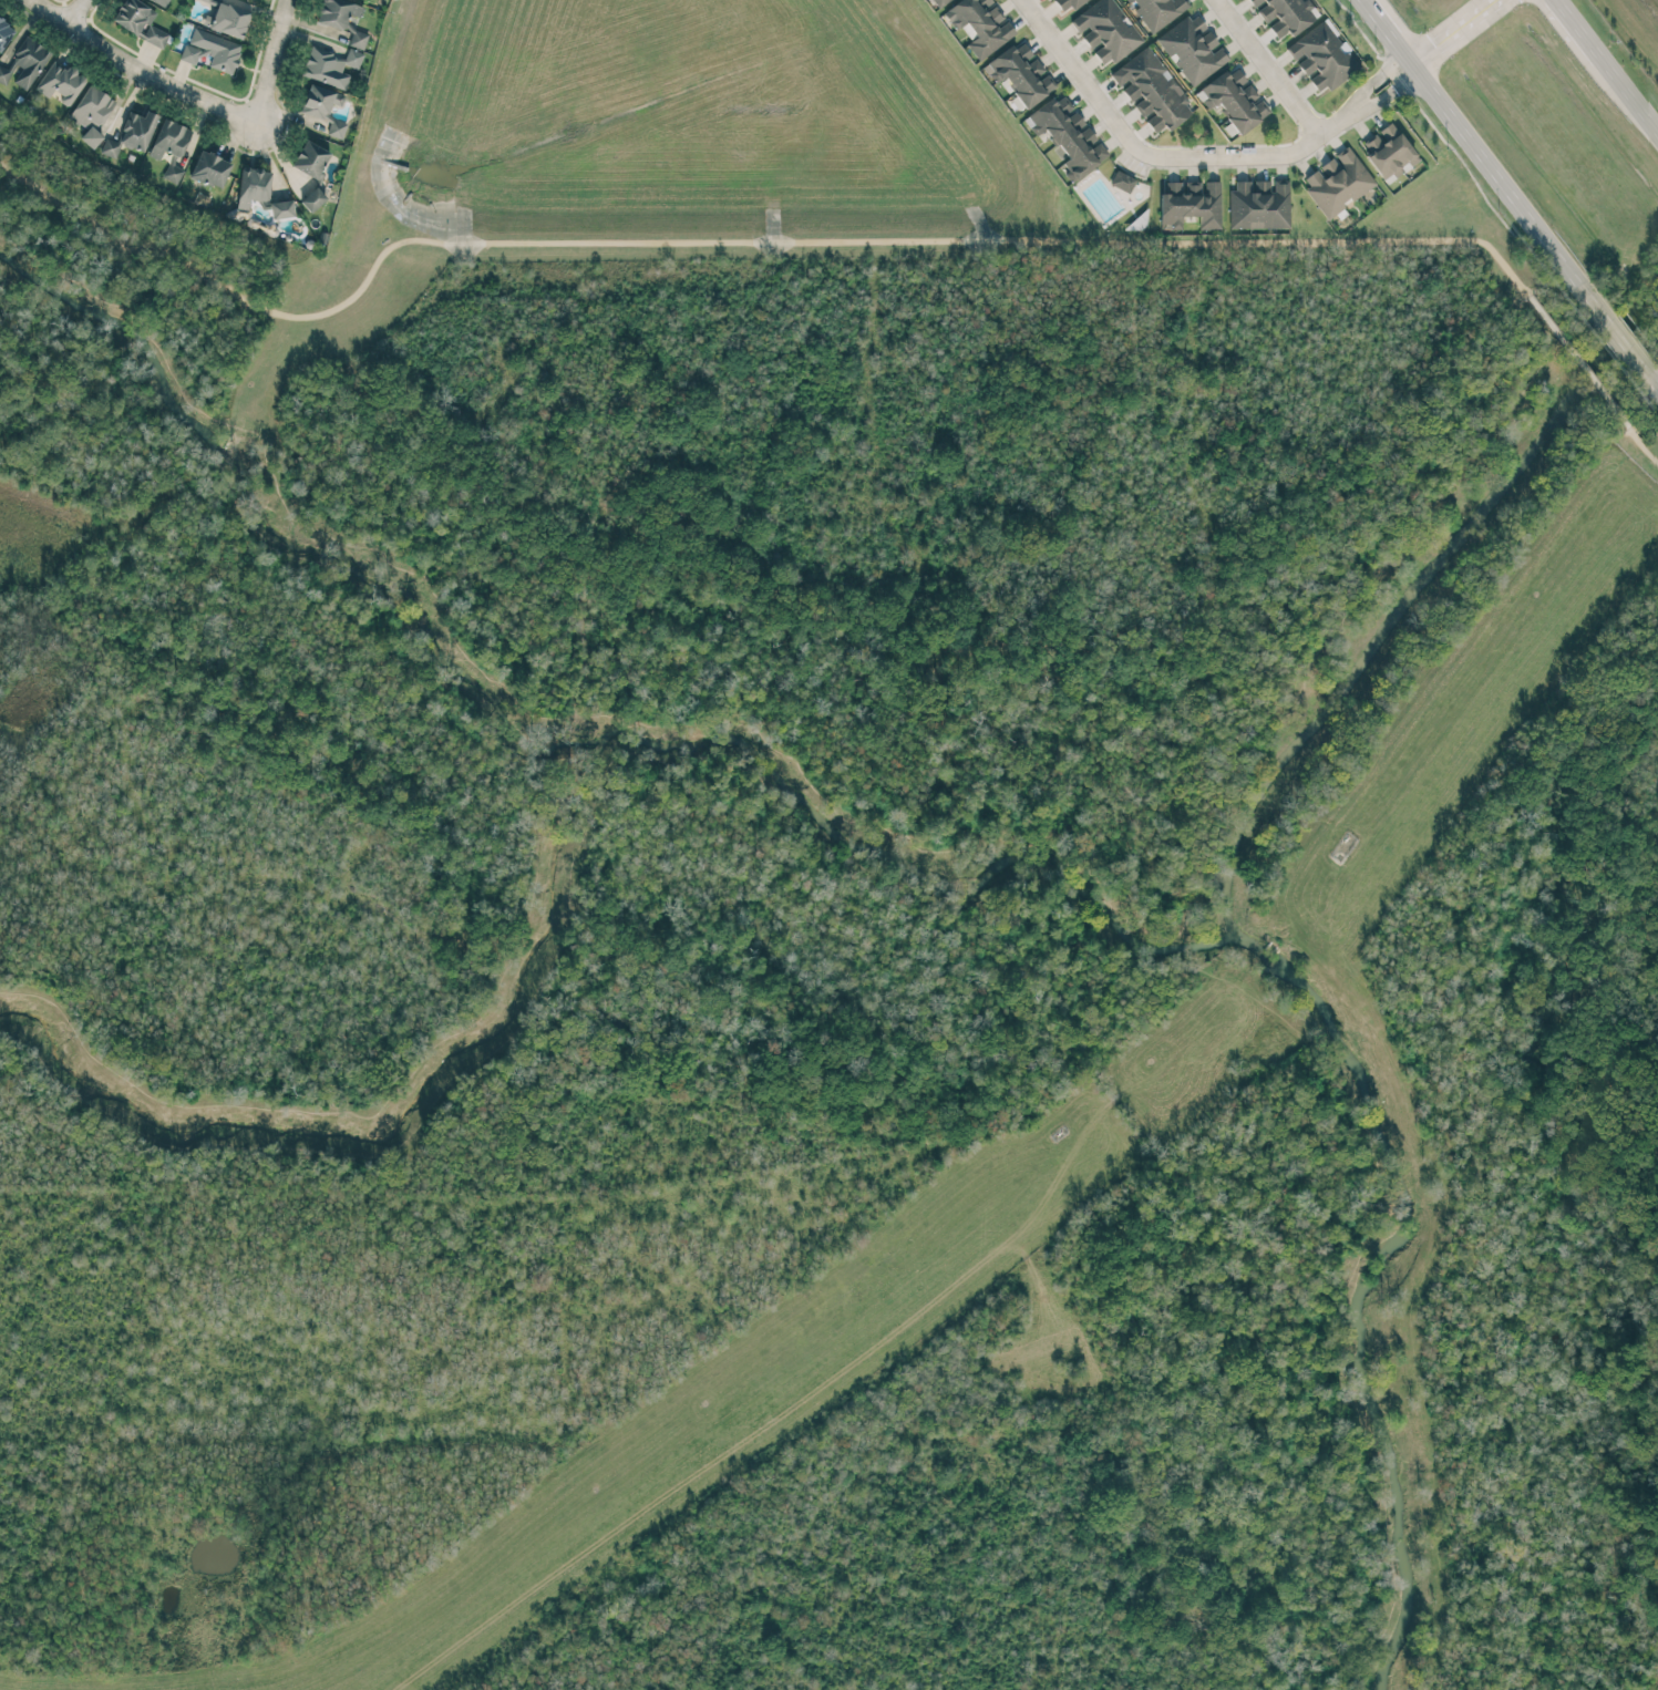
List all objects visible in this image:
building: (207, 0)
building: (162, 1)
building: (940, 2)
building: (1068, 4)
road: (71, 11)
building: (1157, 11)
building: (337, 12)
building: (133, 14)
building: (1285, 14)
building: (227, 20)
building: (980, 24)
road: (1580, 29)
building: (1106, 30)
road: (1390, 31)
road: (1454, 31)
building: (4, 33)
building: (155, 37)
building: (358, 39)
building: (1193, 49)
building: (212, 50)
building: (1321, 56)
road: (269, 60)
building: (28, 62)
building: (330, 66)
road: (1265, 68)
road: (137, 70)
building: (1020, 73)
building: (3, 74)
road: (1082, 80)
road: (1374, 80)
building: (61, 83)
building: (1152, 91)
road: (1386, 93)
road: (1630, 93)
building: (1234, 100)
building: (323, 109)
building: (92, 113)
building: (132, 133)
building: (1068, 135)
building: (169, 140)
building: (1389, 152)
road: (1254, 153)
building: (311, 162)
building: (210, 169)
building: (173, 171)
road: (1496, 173)
building: (1122, 181)
building: (1337, 182)
building: (253, 186)
building: (312, 199)
building: (1191, 203)
building: (1259, 204)
building: (281, 209)
road: (739, 240)
road: (1617, 334)
road: (1578, 362)
road: (1657, 387)
road: (1641, 447)
road: (563, 790)
road: (861, 817)
river: (930, 873)

